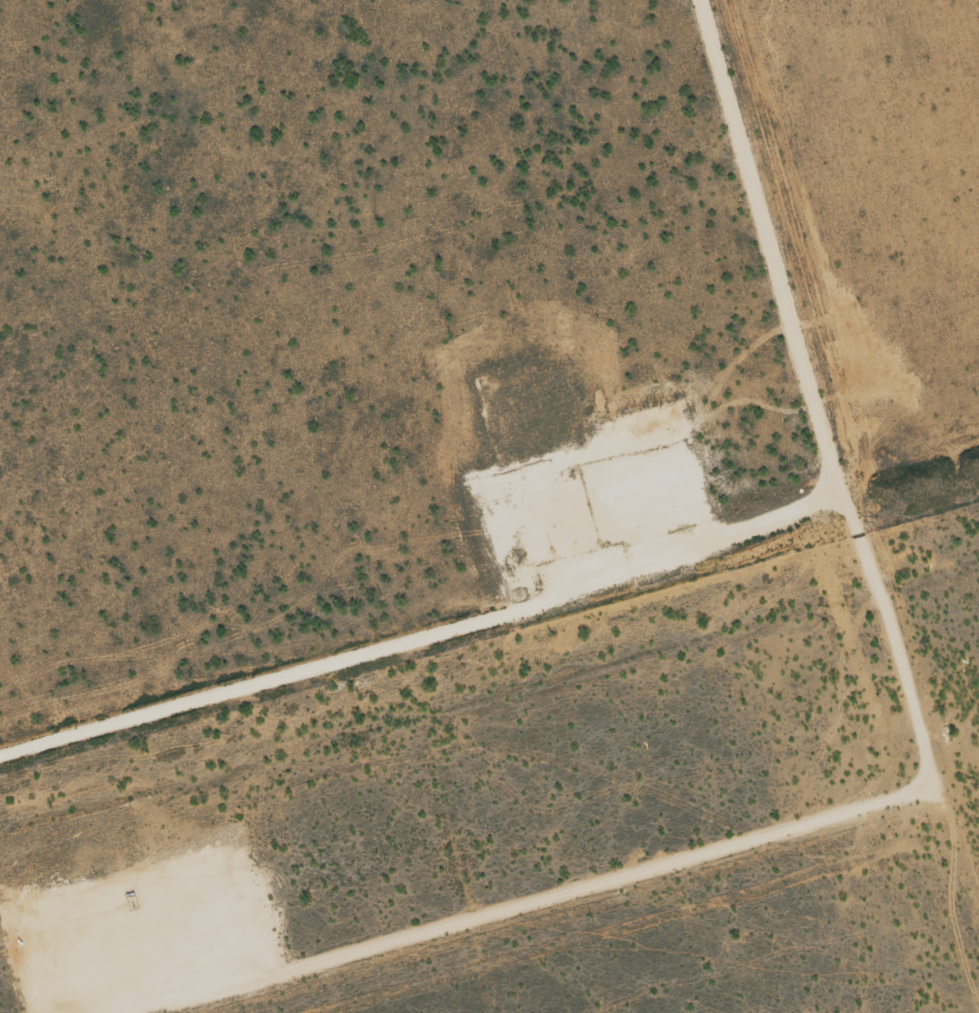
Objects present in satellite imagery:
road: (206, 994)

